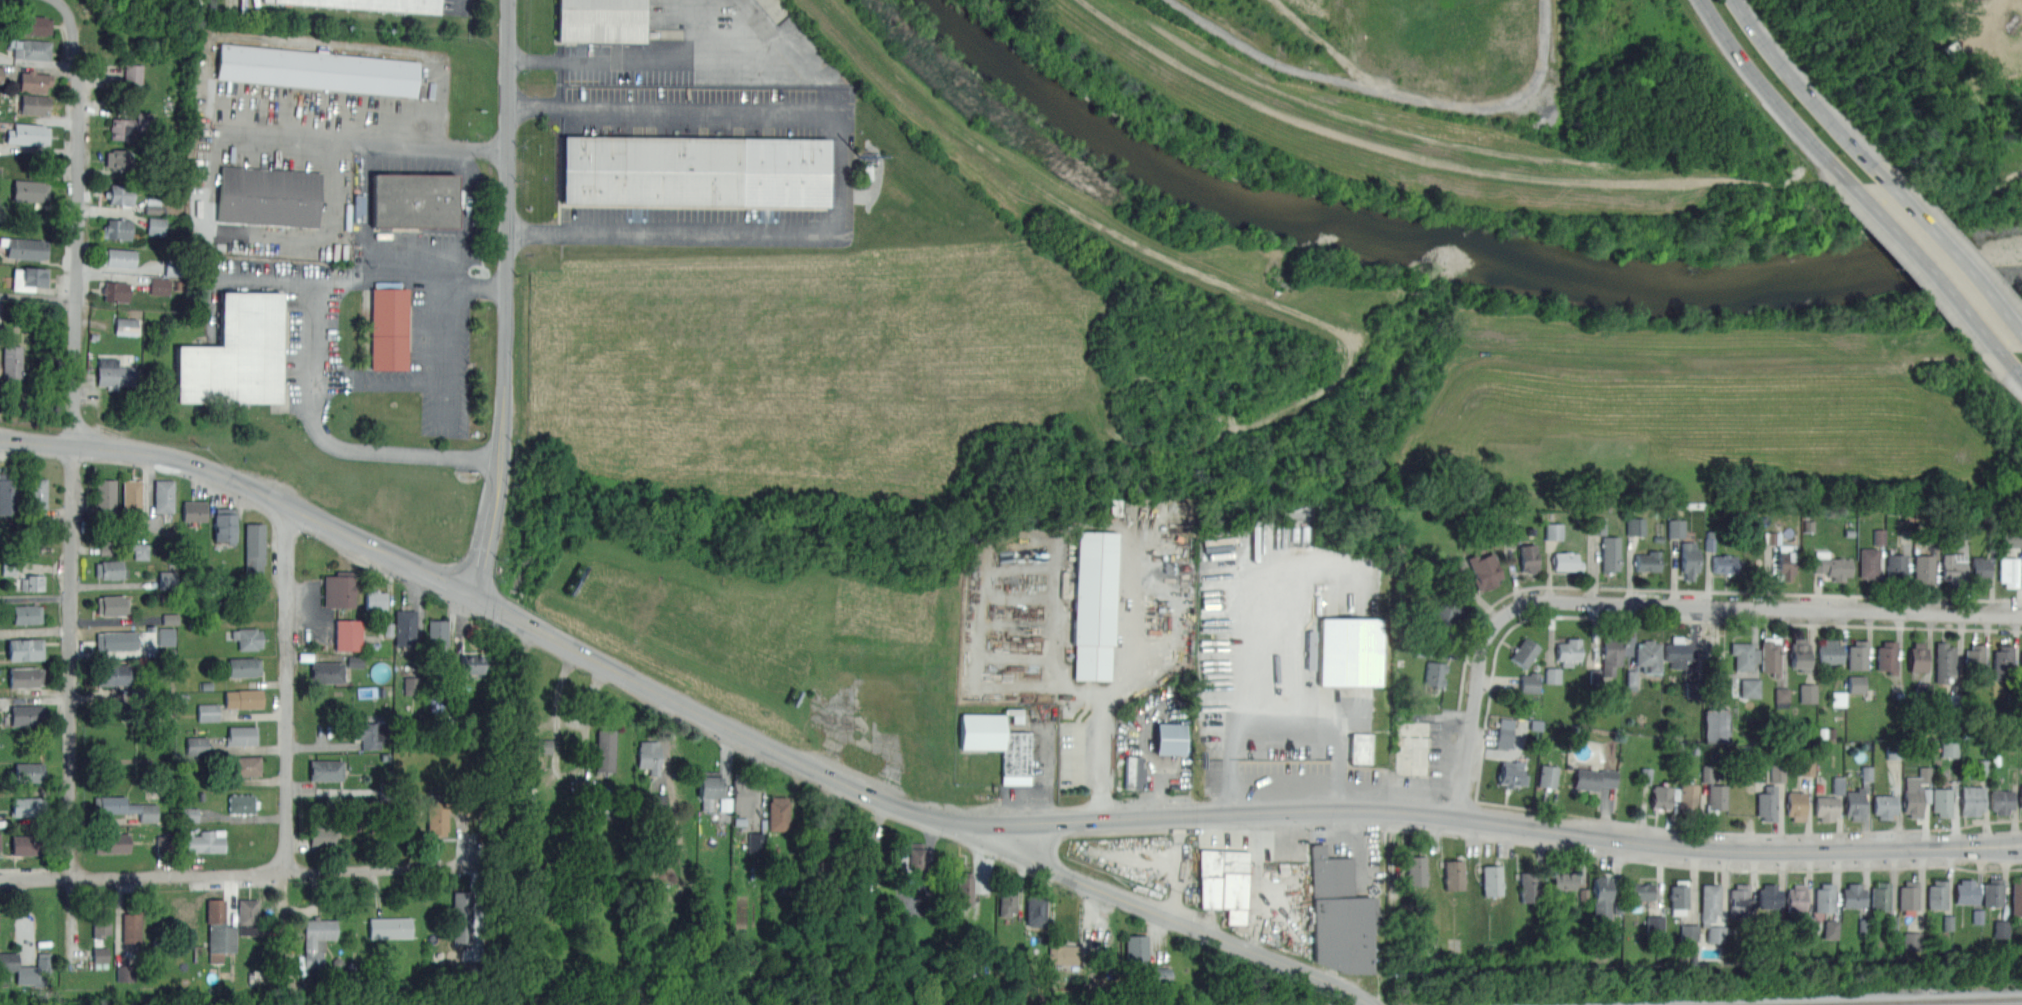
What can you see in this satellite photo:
building: (373, 4)
parking lot: (453, 7)
building: (600, 20)
building: (34, 25)
parking lot: (685, 43)
building: (33, 50)
road: (633, 60)
building: (318, 70)
building: (1, 74)
building: (131, 77)
building: (33, 81)
park: (1935, 82)
road: (1399, 92)
road: (1806, 94)
road: (1770, 95)
building: (34, 104)
building: (128, 125)
building: (27, 134)
parking lot: (297, 137)
road: (364, 139)
building: (118, 159)
parking lot: (708, 164)
building: (693, 170)
road: (840, 172)
building: (29, 191)
building: (120, 194)
building: (268, 197)
building: (413, 200)
parking lot: (415, 204)
road: (364, 210)
road: (463, 216)
road: (76, 218)
building: (156, 226)
road: (507, 228)
building: (117, 229)
river: (1441, 246)
building: (26, 248)
building: (118, 257)
road: (1954, 258)
road: (1925, 266)
building: (28, 278)
road: (409, 282)
building: (160, 286)
park: (2020, 289)
building: (114, 290)
road: (38, 296)
building: (127, 326)
parking lot: (362, 328)
building: (388, 328)
road: (444, 350)
building: (236, 354)
road: (2011, 362)
building: (11, 363)
building: (114, 374)
road: (378, 383)
road: (313, 402)
road: (209, 466)
building: (8, 494)
building: (105, 495)
building: (163, 495)
building: (36, 496)
building: (131, 496)
building: (193, 510)
building: (224, 523)
building: (1636, 524)
building: (1676, 527)
road: (492, 529)
building: (1555, 531)
building: (1879, 534)
building: (1709, 538)
building: (253, 547)
building: (107, 548)
building: (141, 551)
building: (1609, 552)
building: (1528, 557)
building: (1688, 559)
building: (1565, 560)
building: (1647, 560)
building: (1868, 562)
building: (1725, 563)
building: (1785, 563)
building: (1832, 566)
building: (1895, 567)
building: (1923, 567)
building: (1953, 568)
building: (110, 569)
building: (1979, 569)
building: (1484, 570)
building: (2008, 571)
building: (167, 579)
road: (438, 581)
building: (31, 582)
road: (1241, 585)
building: (338, 589)
building: (1094, 599)
building: (375, 600)
traffic signals: (476, 600)
parking lot: (1074, 601)
road: (1177, 602)
road: (1654, 603)
building: (112, 605)
building: (26, 614)
building: (1445, 618)
building: (171, 619)
building: (404, 627)
building: (437, 634)
building: (349, 635)
building: (166, 636)
road: (1059, 636)
building: (247, 637)
building: (114, 640)
road: (1315, 647)
building: (25, 649)
building: (1568, 650)
building: (1351, 651)
building: (1524, 652)
building: (1677, 652)
building: (1830, 652)
building: (1609, 654)
building: (1799, 654)
building: (1858, 654)
building: (1648, 655)
building: (1744, 655)
building: (1770, 655)
building: (1886, 656)
building: (1917, 656)
building: (1974, 658)
building: (1944, 661)
building: (355, 662)
building: (471, 662)
building: (2002, 662)
building: (2021, 663)
parking lot: (1292, 664)
building: (243, 667)
building: (326, 672)
building: (1435, 673)
building: (112, 674)
building: (1596, 674)
building: (1553, 675)
building: (24, 677)
building: (1632, 678)
road: (1122, 679)
building: (1857, 682)
building: (1531, 683)
building: (410, 685)
building: (1750, 686)
building: (1808, 691)
building: (1782, 692)
building: (1839, 697)
building: (242, 698)
road: (71, 703)
building: (208, 712)
building: (26, 714)
road: (1247, 722)
building: (1715, 722)
building: (368, 733)
building: (240, 735)
road: (286, 738)
building: (1169, 738)
building: (1505, 738)
parking lot: (1156, 740)
building: (999, 745)
building: (197, 746)
building: (543, 746)
building: (1949, 746)
building: (1359, 747)
building: (1894, 749)
building: (604, 750)
road: (1144, 752)
building: (649, 756)
parking lot: (1443, 757)
building: (1807, 765)
building: (243, 766)
road: (1168, 766)
building: (326, 771)
road: (1342, 771)
building: (1866, 771)
building: (1134, 772)
building: (1773, 772)
building: (27, 773)
building: (1511, 773)
road: (1047, 775)
building: (1546, 775)
building: (1593, 778)
building: (1838, 783)
building: (708, 788)
building: (1915, 791)
building: (1660, 796)
building: (2021, 796)
building: (738, 797)
building: (1686, 797)
building: (1715, 797)
building: (1941, 800)
building: (1971, 800)
building: (659, 801)
building: (2001, 801)
building: (1767, 802)
building: (1854, 803)
building: (242, 804)
building: (1795, 804)
building: (1884, 805)
building: (27, 806)
building: (1826, 807)
building: (125, 808)
building: (442, 811)
building: (778, 813)
road: (1224, 813)
building: (190, 814)
building: (816, 823)
building: (323, 834)
building: (202, 841)
building: (863, 841)
road: (1281, 841)
building: (756, 842)
building: (0, 843)
building: (111, 843)
building: (28, 844)
road: (1040, 844)
parking lot: (1353, 852)
building: (912, 860)
road: (1179, 867)
building: (1416, 871)
road: (246, 875)
building: (1454, 875)
parking lot: (1225, 876)
building: (1492, 880)
building: (1563, 880)
building: (1225, 882)
building: (1529, 886)
building: (964, 888)
building: (1642, 891)
building: (1966, 891)
building: (1993, 891)
building: (1937, 894)
building: (1602, 895)
building: (1853, 895)
building: (1880, 895)
building: (1908, 895)
building: (1678, 896)
building: (1769, 896)
building: (1824, 897)
building: (2016, 897)
building: (1796, 898)
building: (1007, 899)
building: (1738, 900)
building: (1710, 901)
building: (1035, 908)
road: (1163, 914)
building: (1978, 914)
building: (1339, 915)
building: (248, 917)
building: (461, 917)
building: (100, 921)
building: (1948, 921)
building: (1655, 922)
building: (131, 927)
building: (2000, 927)
building: (389, 928)
building: (1832, 928)
building: (219, 930)
building: (1690, 930)
building: (315, 943)
building: (1137, 950)
building: (100, 955)
building: (1063, 955)
building: (35, 972)
building: (122, 974)
building: (1160, 974)
railway: (1884, 1000)

